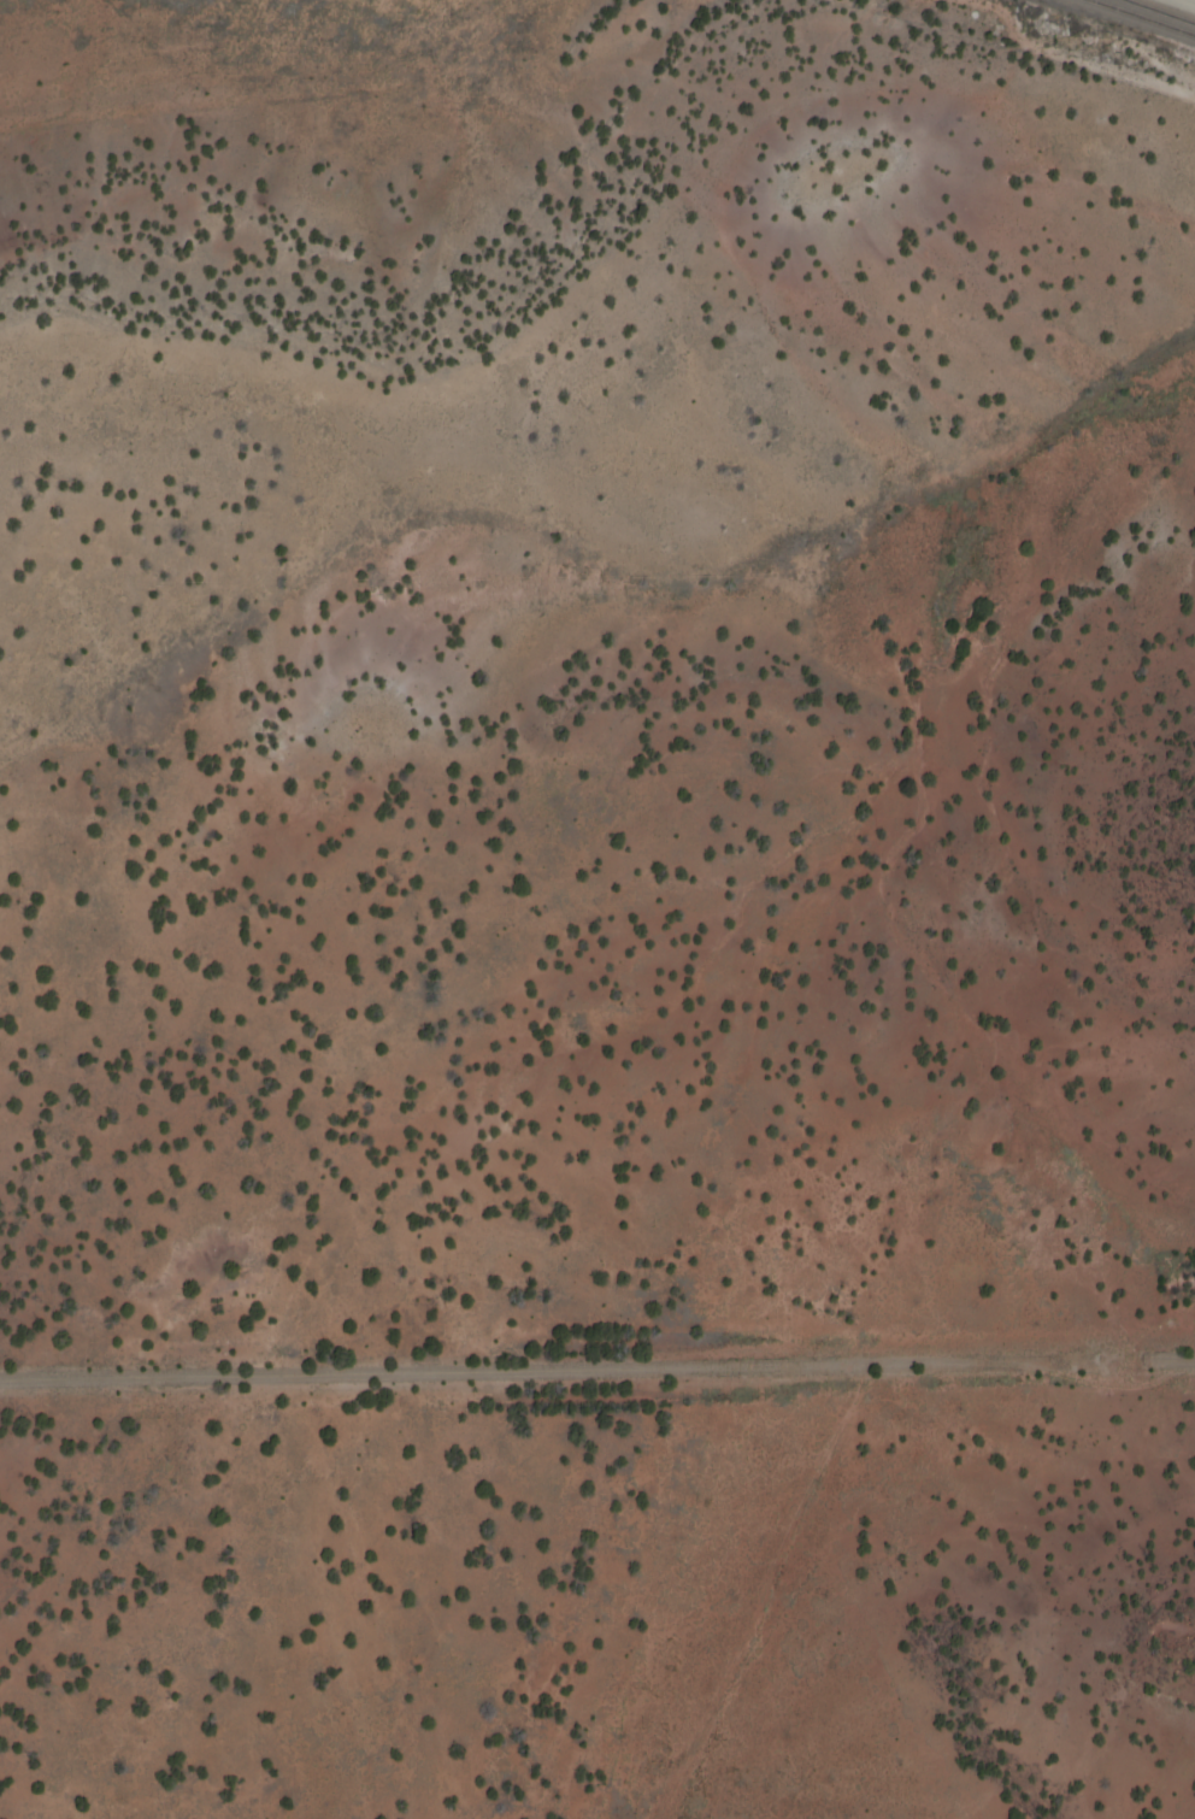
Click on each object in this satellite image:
railway: (1161, 11)
railway: (1142, 16)
road: (597, 1368)

